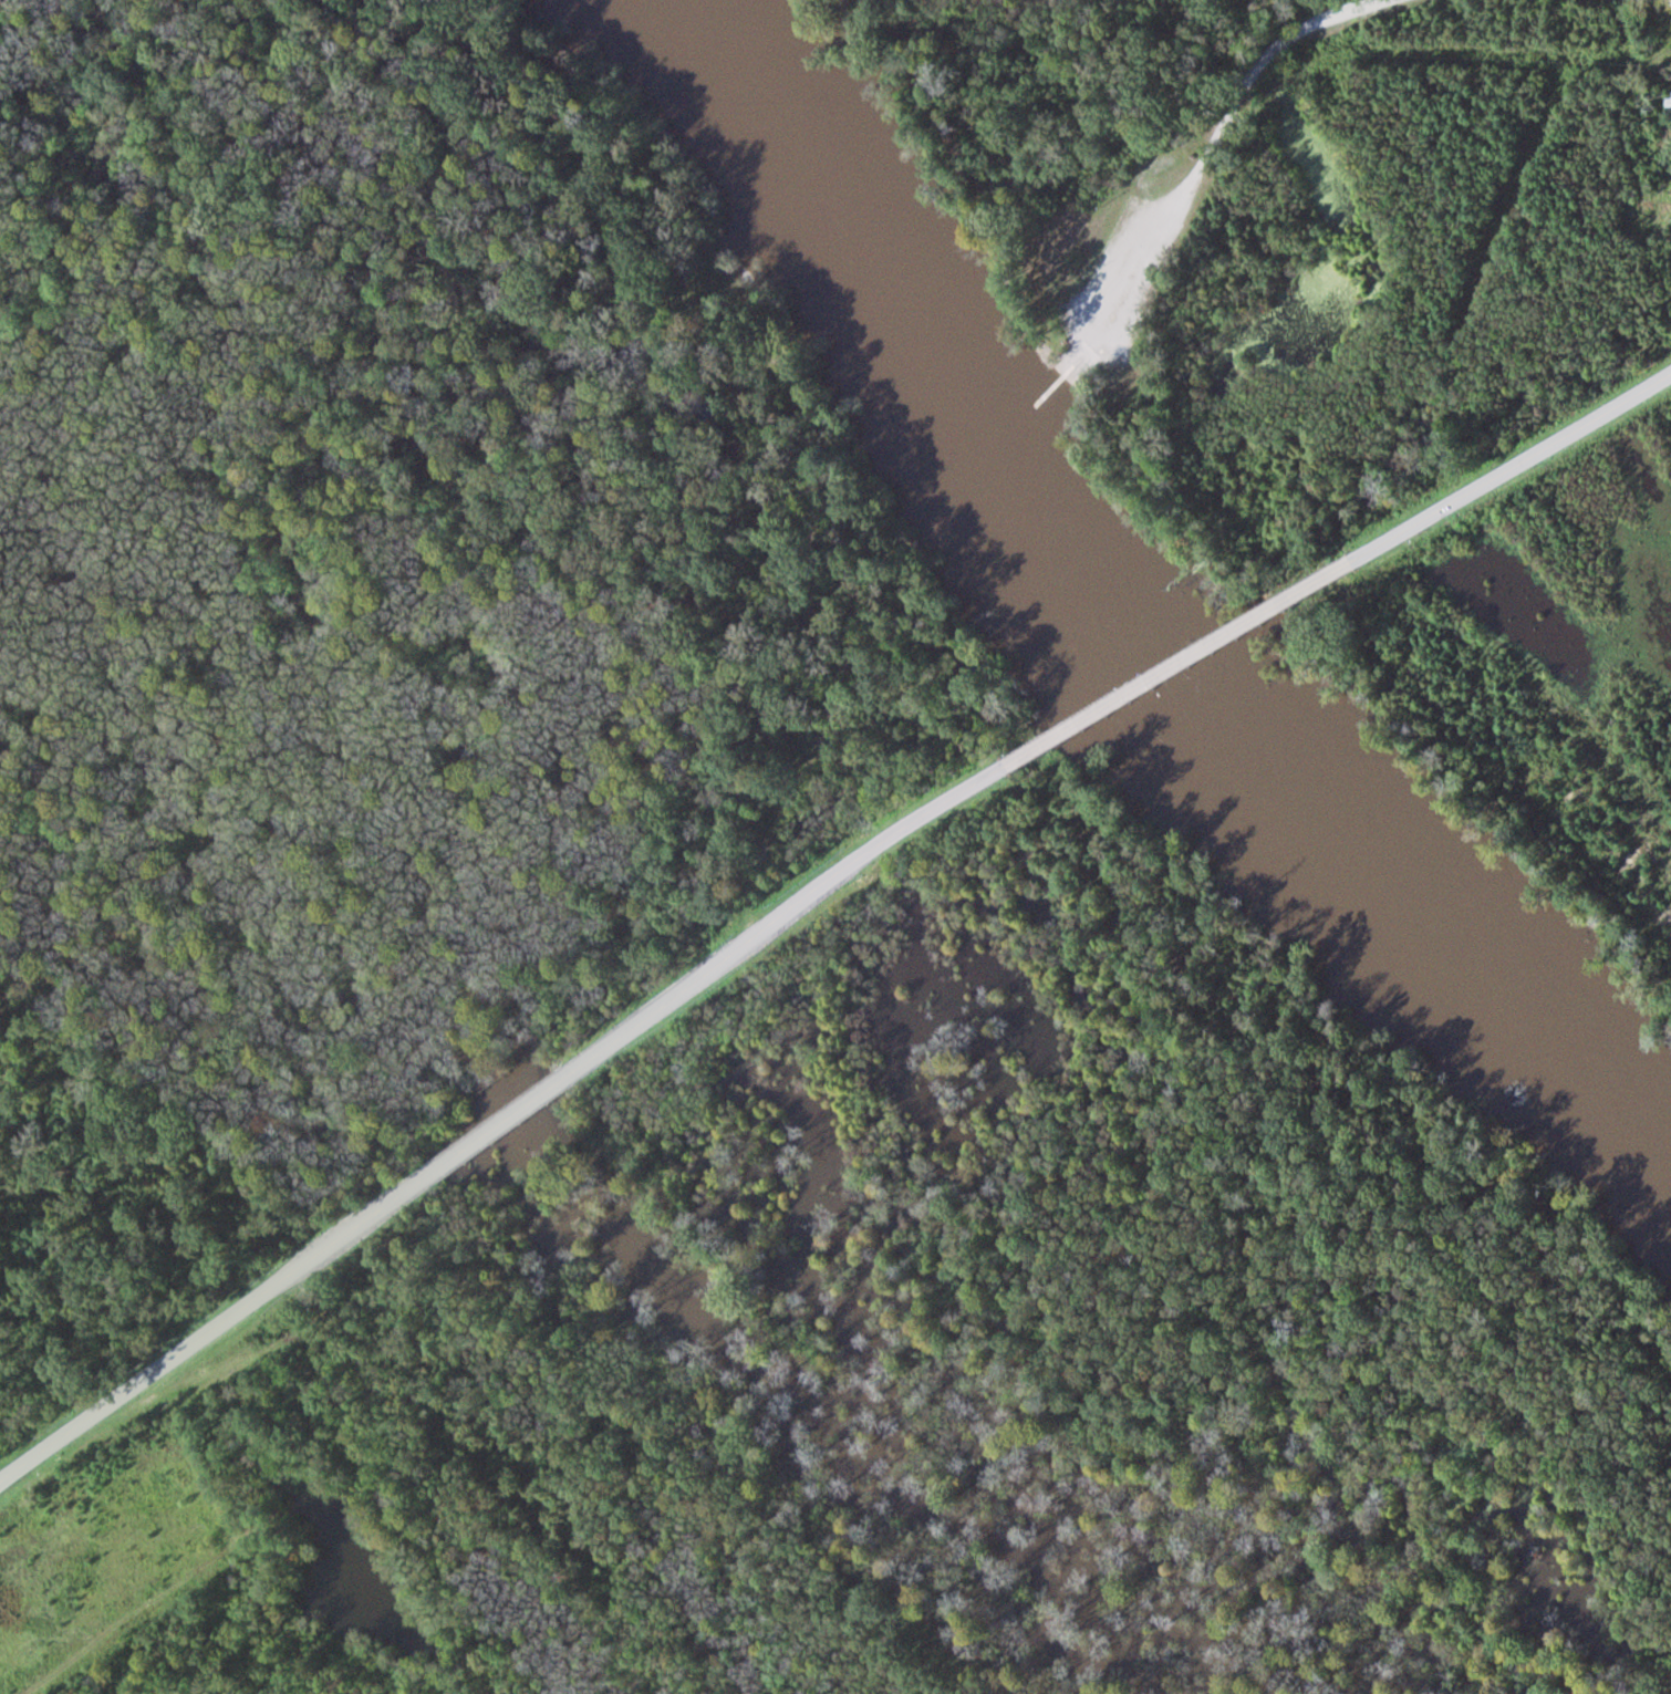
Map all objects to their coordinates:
building: (1669, 34)
building: (1668, 97)
road: (1214, 143)
parking lot: (1128, 273)
parking lot: (1069, 312)
road: (1067, 326)
road: (1091, 352)
road: (1062, 370)
road: (1073, 380)
pier: (1060, 382)
road: (1511, 468)
river: (1123, 633)
road: (1179, 663)
road: (785, 912)
road: (498, 1123)
road: (214, 1328)

